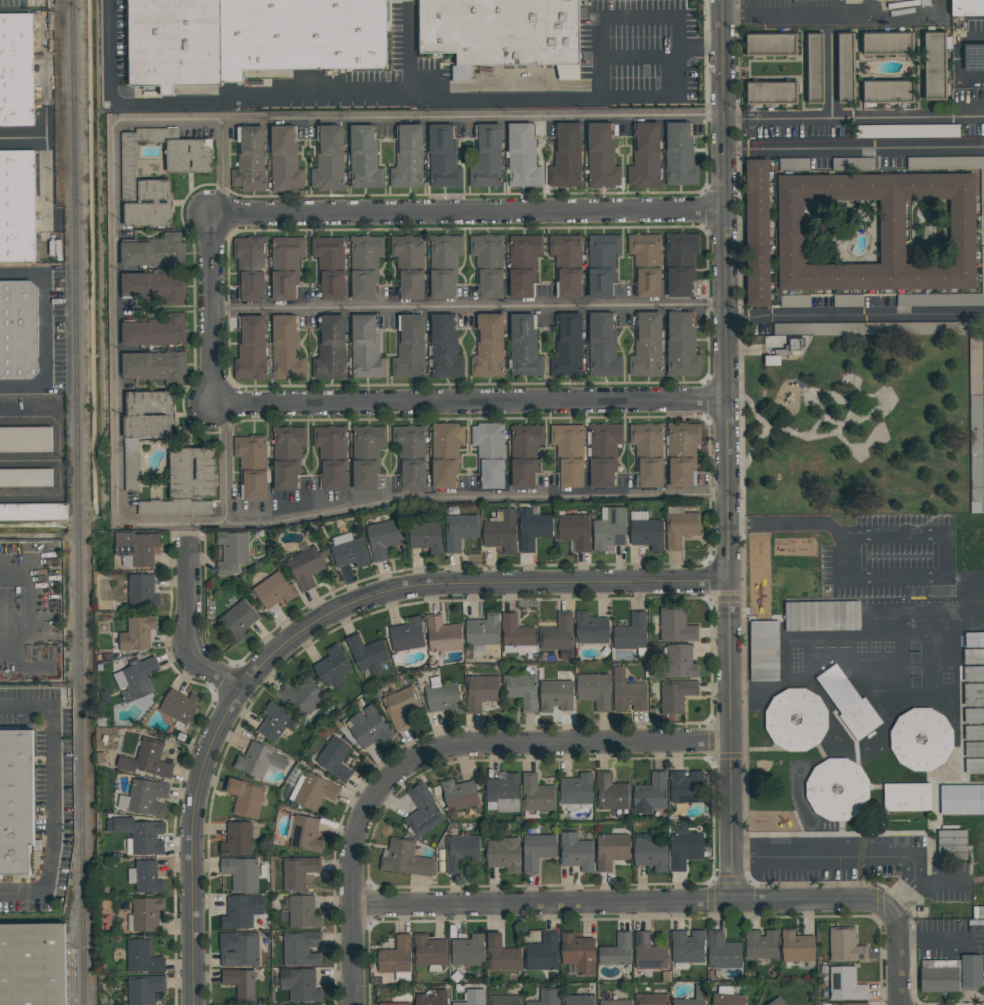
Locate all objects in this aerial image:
building: (364, 0)
building: (785, 0)
road: (750, 8)
building: (969, 9)
road: (826, 17)
road: (599, 20)
building: (270, 36)
building: (516, 40)
building: (887, 42)
building: (173, 44)
building: (770, 44)
road: (698, 49)
railway: (64, 55)
road: (638, 55)
road: (408, 57)
building: (935, 66)
building: (845, 67)
building: (814, 69)
building: (16, 70)
building: (887, 91)
building: (770, 92)
road: (383, 99)
road: (463, 116)
road: (852, 117)
building: (906, 132)
road: (20, 140)
road: (865, 150)
road: (733, 152)
building: (679, 154)
building: (520, 156)
building: (565, 156)
building: (443, 157)
building: (485, 157)
building: (601, 157)
building: (645, 157)
building: (285, 158)
building: (362, 158)
building: (248, 159)
building: (328, 159)
building: (406, 159)
building: (792, 163)
building: (852, 163)
building: (948, 165)
building: (130, 176)
building: (16, 207)
road: (465, 212)
building: (877, 232)
building: (757, 234)
building: (153, 251)
building: (679, 263)
building: (407, 264)
building: (602, 264)
building: (646, 264)
building: (487, 265)
building: (522, 265)
building: (566, 265)
building: (329, 266)
building: (364, 266)
building: (444, 266)
building: (285, 267)
building: (250, 268)
building: (982, 270)
building: (155, 287)
building: (847, 301)
building: (793, 302)
road: (465, 305)
road: (211, 310)
road: (736, 318)
road: (868, 319)
road: (113, 328)
road: (44, 329)
building: (871, 329)
building: (19, 331)
building: (156, 332)
building: (797, 344)
building: (523, 345)
building: (444, 346)
building: (568, 346)
building: (601, 346)
building: (645, 346)
building: (681, 346)
building: (250, 348)
building: (363, 348)
building: (487, 348)
building: (284, 349)
building: (329, 349)
building: (407, 349)
building: (153, 366)
road: (741, 379)
road: (466, 403)
road: (846, 403)
road: (879, 407)
road: (864, 417)
road: (849, 419)
road: (833, 421)
building: (975, 426)
building: (143, 428)
park: (855, 432)
building: (24, 441)
road: (723, 450)
road: (61, 454)
building: (489, 454)
building: (523, 454)
building: (682, 454)
building: (408, 455)
building: (444, 455)
building: (603, 455)
building: (646, 455)
building: (287, 456)
building: (568, 456)
building: (330, 457)
building: (366, 457)
road: (747, 460)
building: (251, 466)
building: (25, 480)
building: (186, 485)
road: (742, 491)
road: (472, 492)
railway: (79, 502)
building: (33, 514)
building: (680, 526)
building: (609, 528)
building: (532, 529)
building: (458, 531)
building: (574, 531)
building: (645, 531)
building: (501, 533)
building: (424, 537)
building: (383, 540)
building: (135, 547)
building: (232, 552)
building: (349, 554)
building: (305, 570)
road: (885, 578)
road: (465, 586)
building: (141, 592)
building: (272, 592)
building: (822, 616)
building: (237, 620)
building: (674, 627)
road: (186, 628)
building: (590, 629)
building: (483, 630)
building: (515, 632)
building: (135, 634)
building: (556, 634)
building: (629, 634)
building: (406, 636)
building: (441, 636)
building: (974, 640)
building: (764, 650)
building: (366, 655)
building: (973, 656)
building: (680, 661)
building: (332, 669)
building: (973, 673)
building: (136, 679)
building: (480, 690)
building: (521, 690)
building: (594, 690)
building: (626, 693)
building: (973, 694)
building: (556, 695)
building: (674, 696)
building: (299, 699)
building: (443, 700)
building: (847, 701)
building: (179, 705)
building: (400, 708)
building: (973, 715)
building: (796, 720)
building: (275, 723)
building: (367, 728)
building: (974, 733)
building: (921, 739)
road: (437, 752)
building: (145, 760)
building: (258, 760)
building: (333, 760)
building: (685, 787)
building: (574, 790)
building: (838, 790)
building: (314, 792)
building: (503, 793)
building: (610, 793)
building: (535, 794)
building: (650, 794)
road: (50, 795)
building: (458, 795)
building: (244, 797)
building: (907, 797)
building: (146, 798)
building: (962, 799)
building: (17, 804)
building: (423, 810)
building: (137, 835)
building: (305, 835)
building: (236, 839)
road: (191, 842)
building: (952, 844)
building: (536, 850)
building: (683, 850)
building: (611, 851)
building: (461, 852)
building: (575, 853)
building: (504, 855)
building: (650, 855)
road: (837, 857)
building: (405, 859)
building: (297, 872)
building: (240, 874)
building: (146, 878)
road: (940, 888)
road: (901, 898)
road: (621, 903)
building: (240, 912)
building: (301, 913)
building: (146, 914)
road: (931, 938)
building: (760, 945)
building: (845, 945)
railway: (73, 947)
building: (687, 947)
building: (796, 947)
building: (301, 948)
building: (239, 950)
building: (429, 951)
building: (468, 951)
building: (615, 951)
building: (722, 952)
building: (541, 953)
building: (577, 954)
building: (501, 955)
building: (395, 956)
building: (647, 956)
road: (894, 956)
building: (142, 958)
building: (32, 965)
building: (951, 975)
building: (299, 984)
building: (241, 985)
building: (845, 985)
building: (143, 989)
building: (698, 993)
building: (432, 998)
building: (472, 998)
building: (546, 998)
building: (651, 999)
building: (726, 999)
building: (505, 1000)
building: (578, 1000)
building: (615, 1002)
building: (777, 1002)
building: (393, 1004)
building: (855, 1004)

